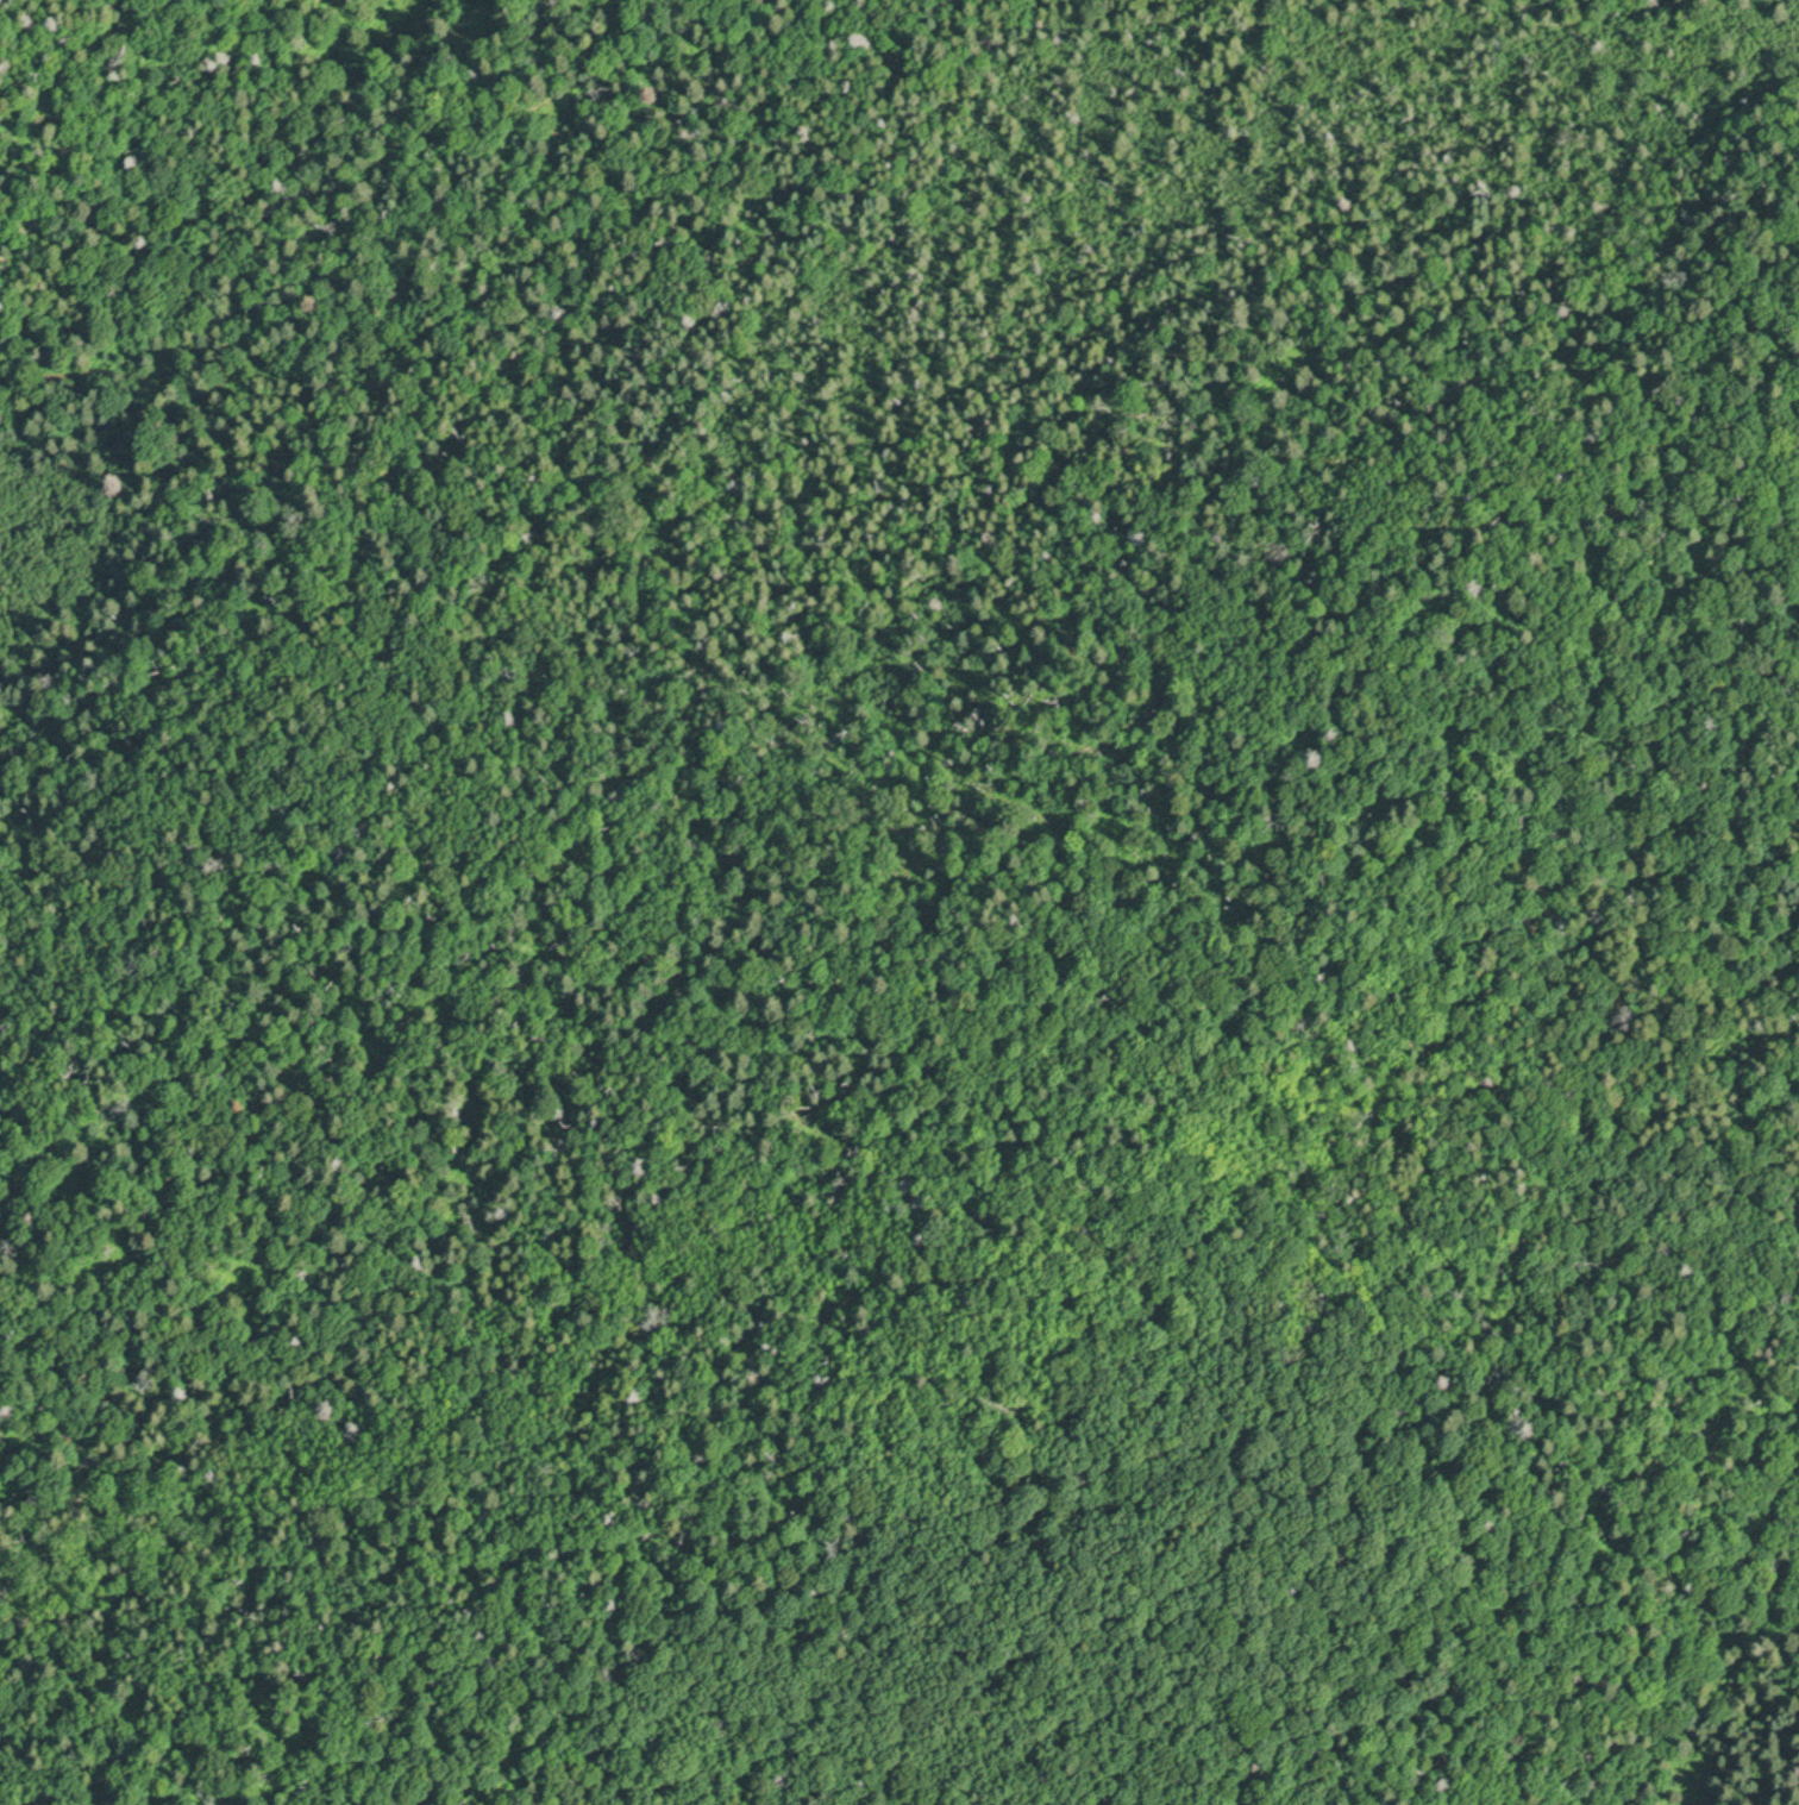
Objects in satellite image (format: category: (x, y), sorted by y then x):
road: (1427, 521)
road: (591, 585)
road: (848, 1471)

